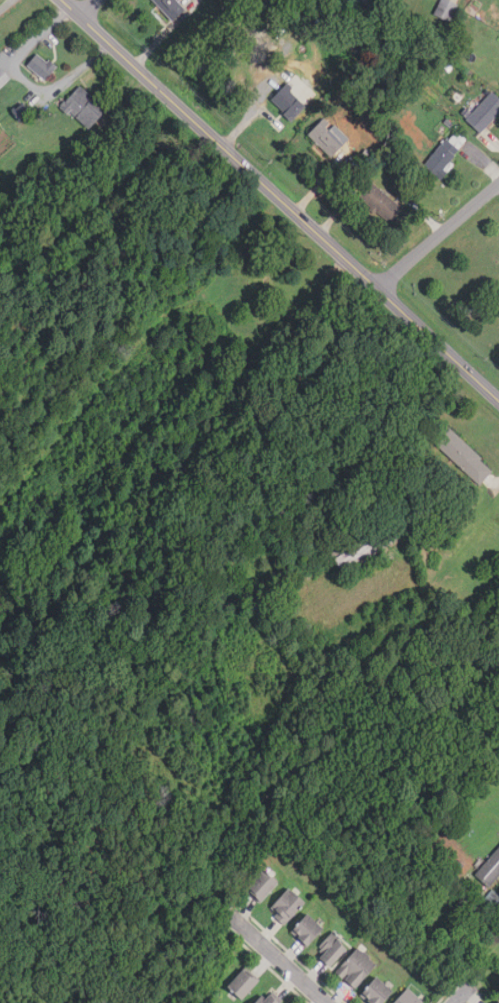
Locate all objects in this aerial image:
road: (6, 5)
building: (173, 7)
road: (88, 8)
building: (444, 10)
building: (42, 66)
building: (3, 77)
road: (25, 81)
building: (288, 101)
building: (85, 107)
building: (23, 111)
building: (485, 112)
building: (327, 136)
building: (446, 153)
road: (280, 199)
building: (381, 201)
road: (437, 234)
building: (462, 453)
building: (366, 545)
building: (255, 600)
building: (489, 869)
building: (263, 884)
building: (287, 905)
building: (308, 929)
building: (331, 949)
road: (277, 957)
building: (356, 968)
building: (244, 983)
building: (378, 991)
road: (460, 993)
building: (268, 998)
building: (408, 998)
building: (498, 1002)

